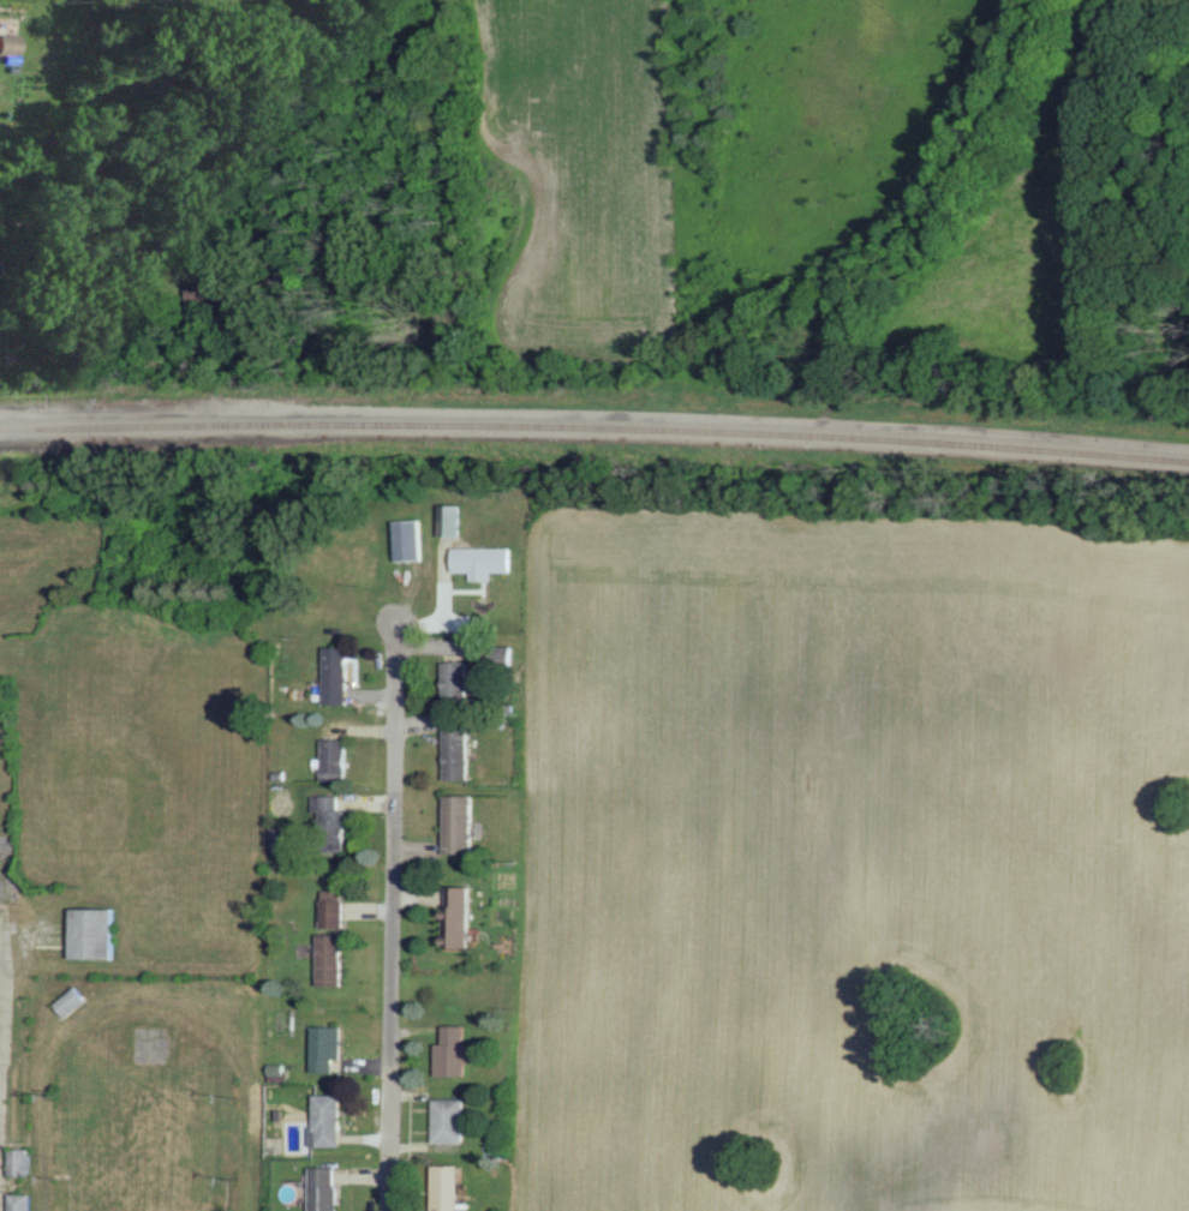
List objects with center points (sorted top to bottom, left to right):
building: (10, 42)
road: (89, 229)
building: (209, 292)
railway: (594, 426)
building: (446, 520)
building: (404, 539)
building: (477, 560)
building: (495, 657)
building: (331, 675)
building: (450, 682)
park: (133, 744)
building: (453, 753)
building: (330, 759)
building: (328, 821)
building: (455, 822)
building: (331, 907)
road: (394, 916)
building: (455, 916)
building: (92, 933)
building: (330, 959)
building: (72, 1002)
building: (328, 1048)
building: (455, 1051)
road: (7, 1068)
building: (454, 1119)
building: (330, 1120)
track: (48, 1153)
building: (22, 1161)
building: (452, 1187)
building: (329, 1188)
building: (20, 1201)

